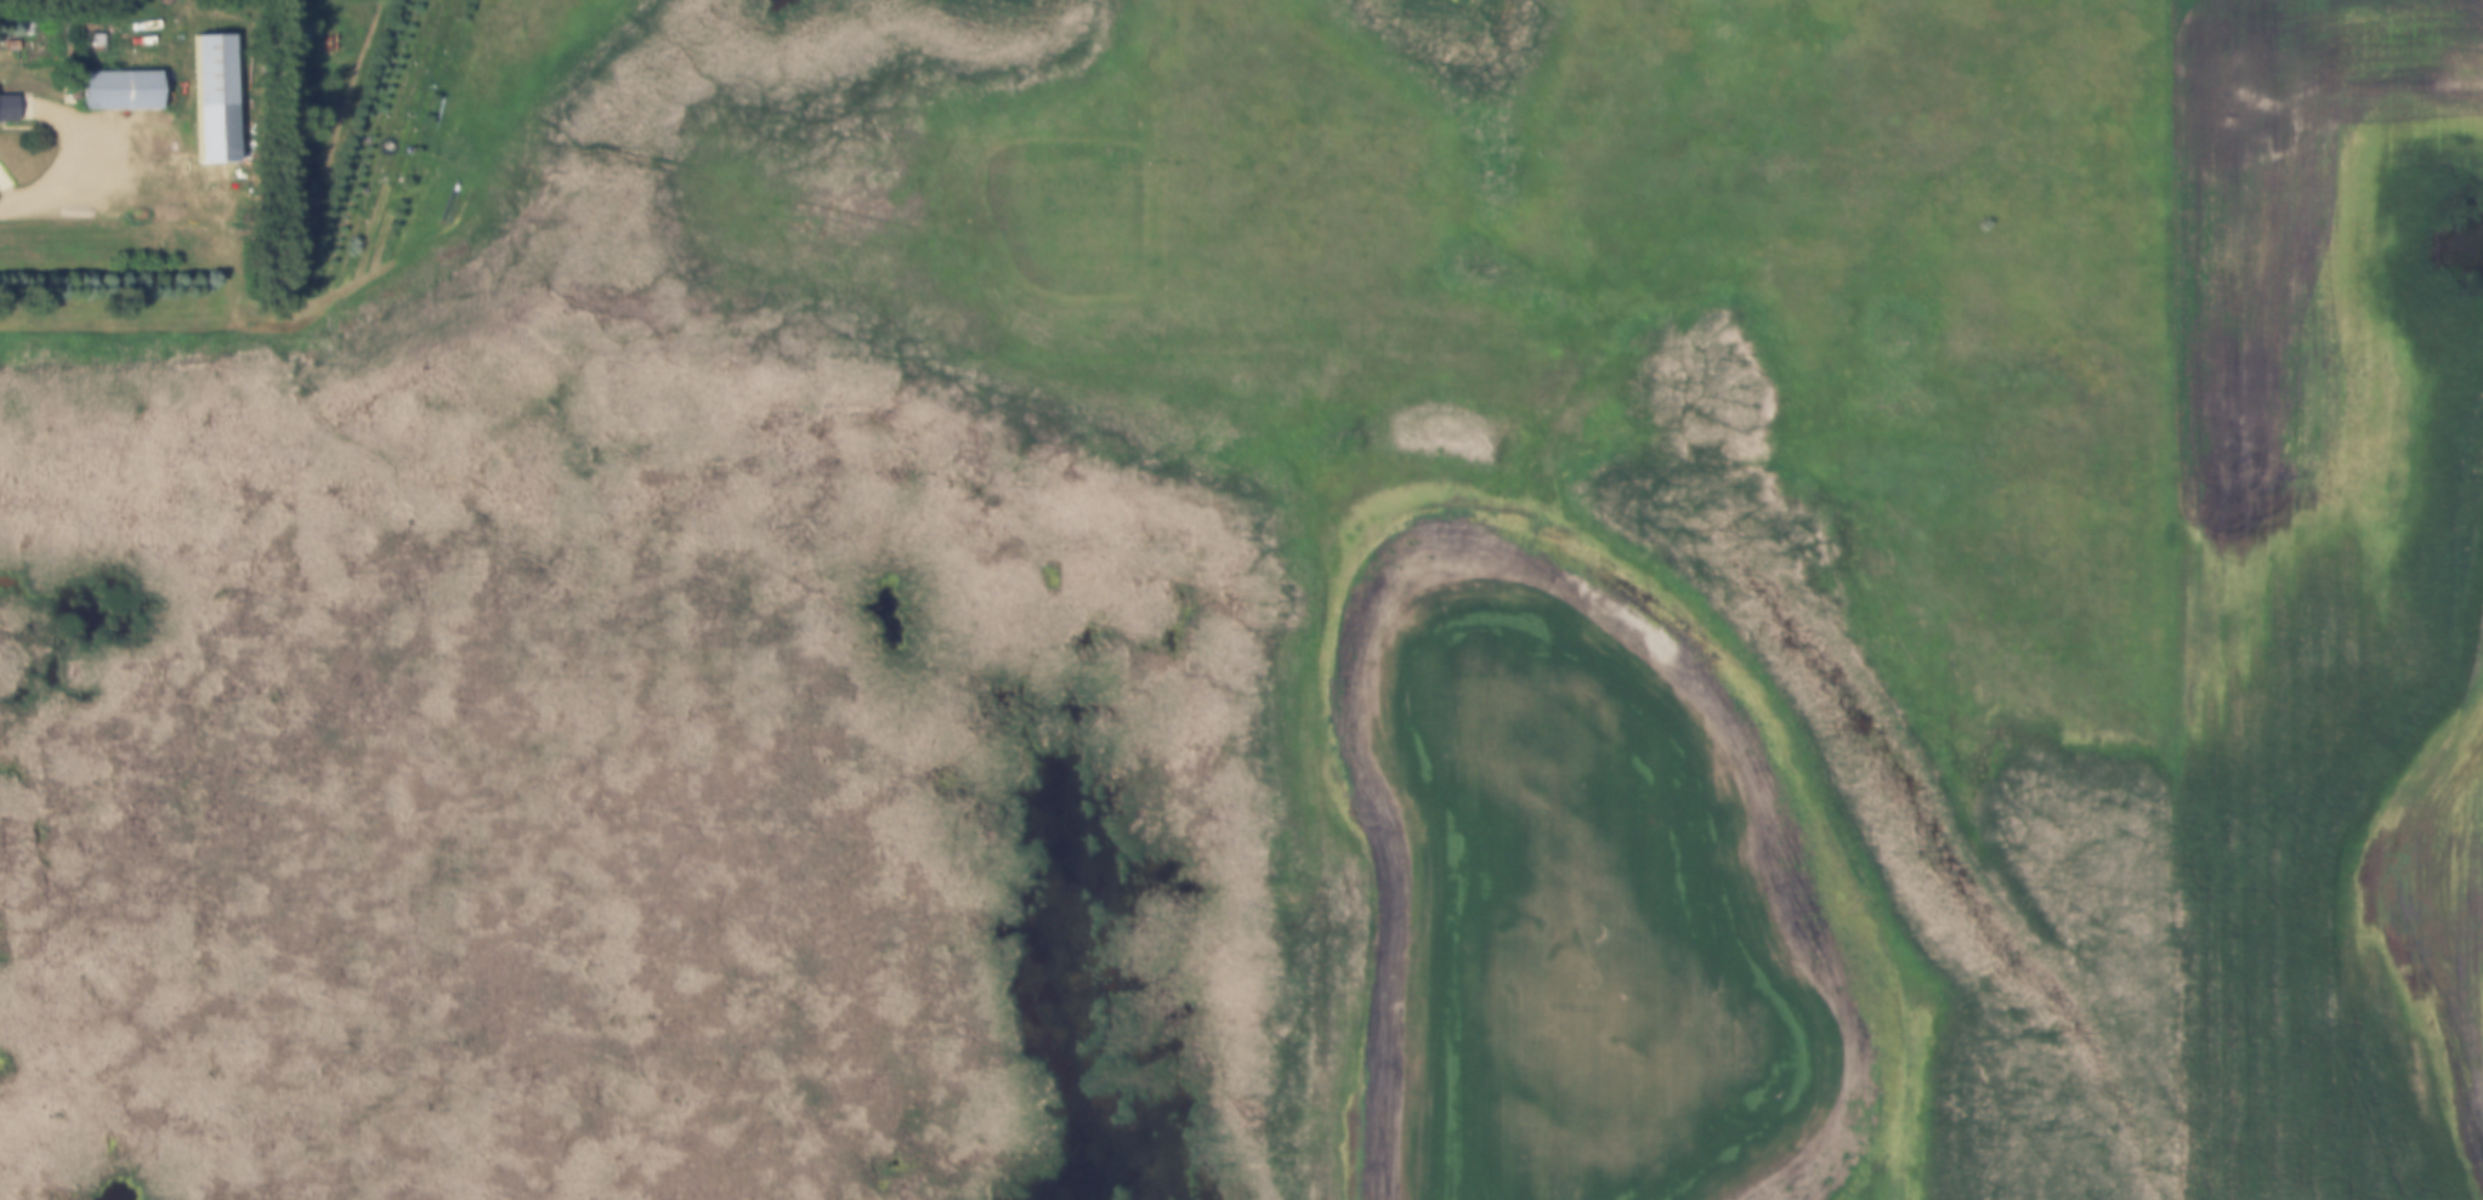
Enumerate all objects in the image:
building: (119, 80)
building: (204, 85)
building: (7, 109)
road: (57, 172)

